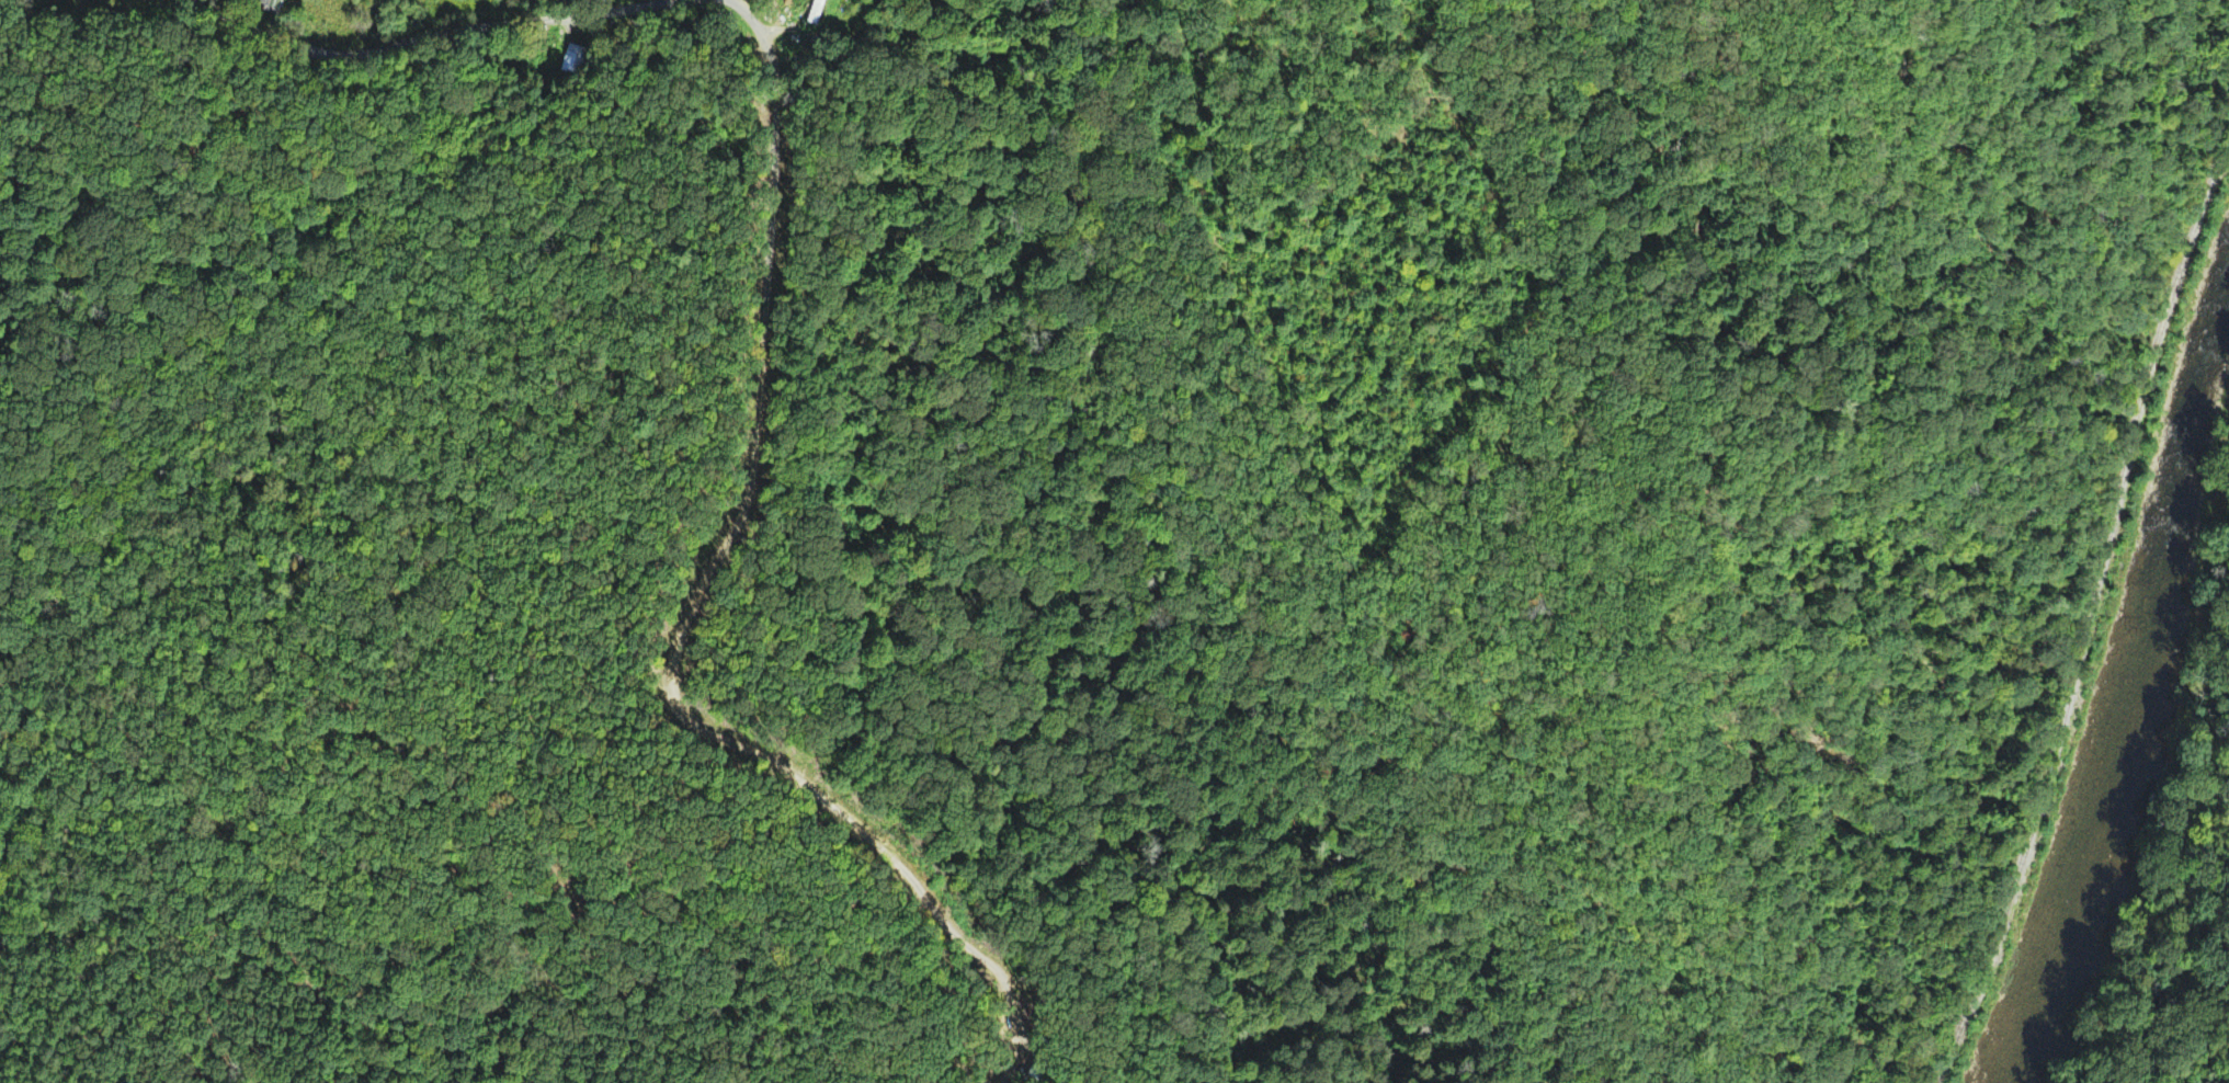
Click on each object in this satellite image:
building: (271, 7)
road: (471, 37)
building: (569, 60)
railway: (2037, 541)
river: (2127, 682)

